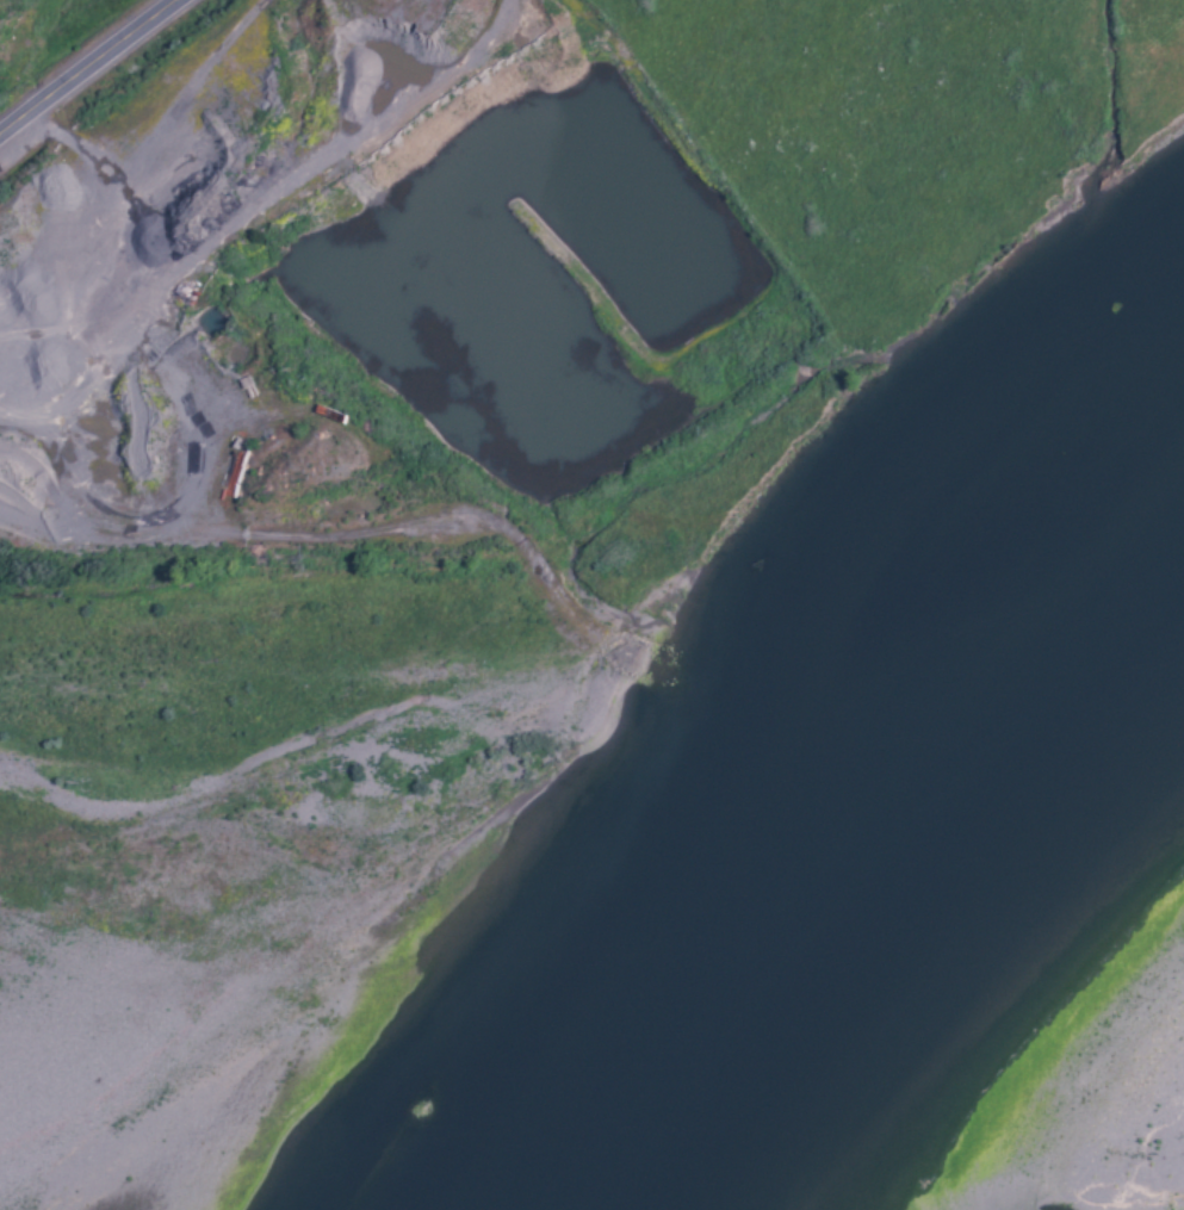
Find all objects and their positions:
road: (88, 67)
river: (953, 1004)

